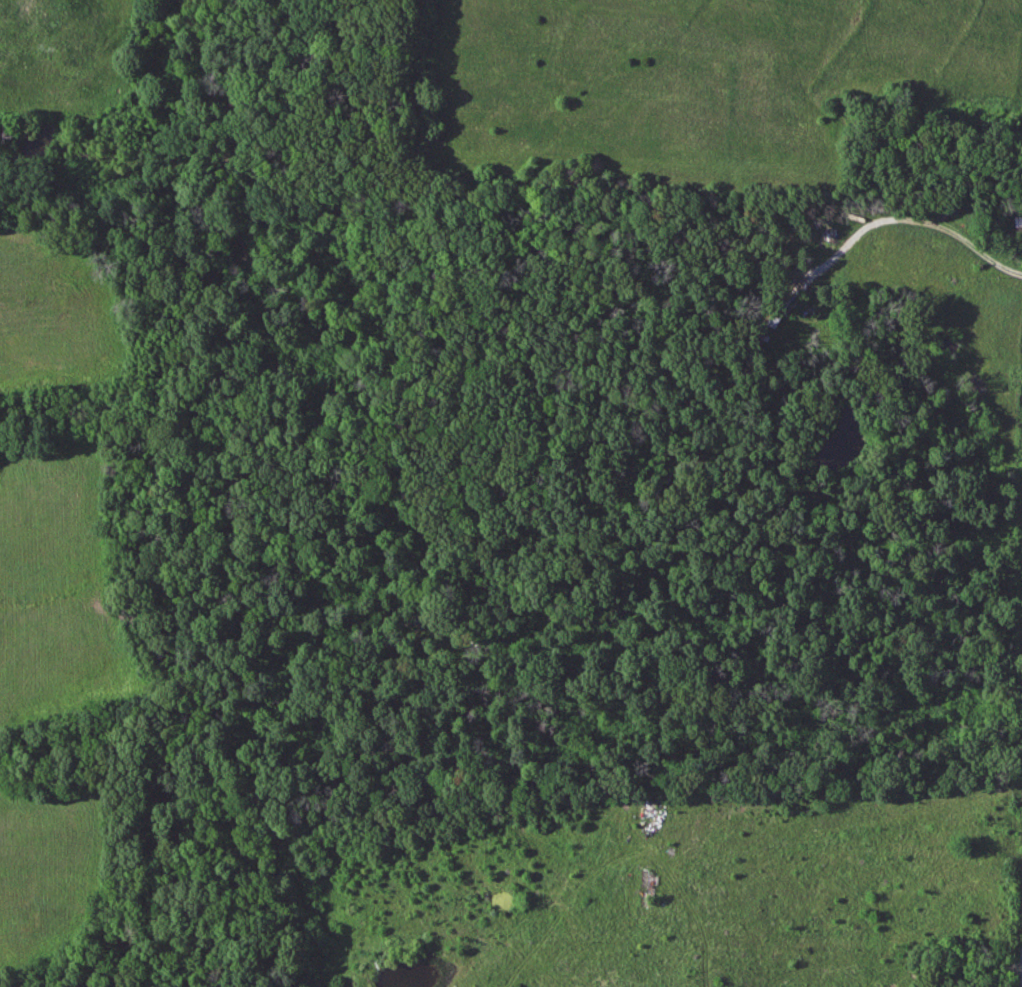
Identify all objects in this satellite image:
road: (964, 238)
building: (920, 245)
road: (652, 887)
building: (643, 888)

